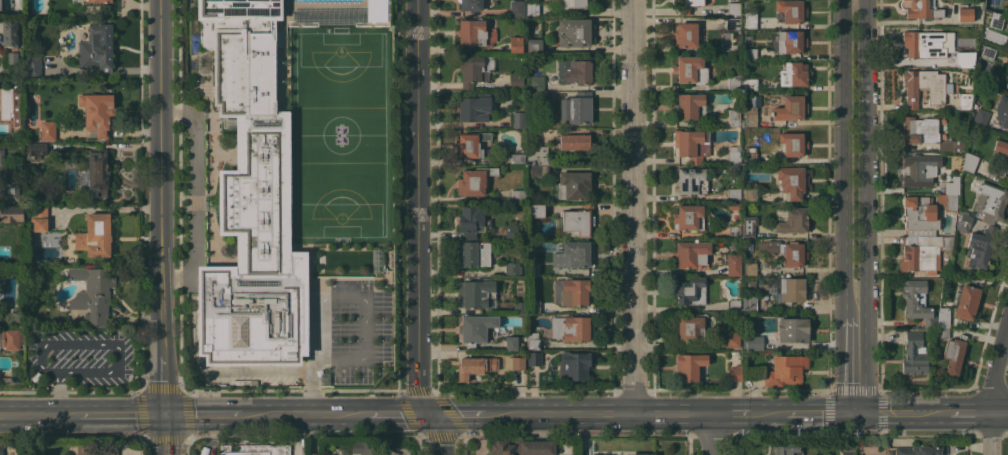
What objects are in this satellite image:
building: (28, 0)
building: (95, 0)
building: (17, 4)
building: (470, 4)
building: (579, 4)
building: (687, 5)
building: (517, 7)
building: (733, 7)
building: (532, 9)
building: (923, 9)
building: (374, 10)
building: (794, 11)
building: (965, 12)
building: (749, 19)
building: (996, 20)
building: (733, 23)
building: (10, 32)
building: (574, 32)
building: (476, 33)
building: (686, 34)
building: (791, 41)
building: (516, 44)
building: (924, 44)
building: (534, 46)
building: (96, 49)
road: (855, 52)
building: (987, 52)
building: (749, 53)
building: (12, 57)
building: (967, 59)
building: (33, 66)
building: (471, 70)
building: (575, 70)
building: (691, 70)
building: (794, 74)
building: (517, 80)
building: (734, 82)
building: (750, 83)
building: (925, 86)
building: (537, 87)
building: (965, 100)
building: (9, 105)
building: (691, 105)
road: (880, 105)
road: (912, 106)
road: (936, 106)
building: (474, 107)
building: (576, 108)
building: (789, 108)
building: (1002, 110)
building: (98, 111)
building: (752, 111)
building: (733, 117)
building: (981, 117)
building: (517, 119)
building: (47, 130)
building: (927, 133)
park: (339, 134)
building: (574, 141)
building: (793, 143)
building: (471, 144)
building: (692, 144)
road: (117, 145)
building: (37, 149)
building: (734, 154)
building: (539, 155)
building: (750, 155)
building: (2, 158)
building: (518, 159)
building: (1006, 161)
building: (970, 162)
building: (920, 169)
building: (537, 171)
building: (97, 172)
building: (474, 180)
building: (692, 180)
building: (792, 182)
building: (571, 186)
building: (951, 186)
building: (11, 190)
road: (197, 193)
building: (734, 194)
building: (750, 194)
building: (518, 195)
building: (251, 199)
building: (948, 201)
building: (990, 202)
road: (164, 205)
road: (630, 205)
building: (734, 208)
building: (536, 210)
building: (11, 213)
building: (920, 216)
building: (688, 217)
building: (39, 218)
building: (470, 220)
building: (578, 220)
building: (793, 221)
building: (964, 222)
building: (748, 225)
road: (416, 229)
building: (511, 231)
building: (734, 231)
building: (95, 235)
building: (27, 238)
building: (981, 247)
building: (785, 251)
building: (923, 252)
building: (475, 253)
building: (572, 254)
building: (691, 254)
road: (857, 258)
building: (769, 264)
building: (734, 265)
building: (512, 269)
building: (751, 269)
building: (532, 270)
building: (794, 289)
building: (571, 291)
building: (690, 291)
building: (93, 292)
building: (476, 293)
road: (362, 298)
building: (917, 301)
building: (749, 302)
building: (967, 302)
building: (732, 306)
building: (520, 307)
building: (760, 309)
building: (8, 315)
building: (943, 317)
building: (571, 328)
building: (692, 328)
building: (793, 330)
building: (476, 332)
building: (943, 333)
building: (732, 338)
building: (11, 339)
building: (533, 341)
road: (96, 343)
building: (511, 343)
building: (755, 343)
building: (914, 354)
building: (953, 354)
building: (534, 358)
building: (518, 363)
building: (573, 365)
building: (690, 365)
road: (314, 367)
building: (474, 367)
road: (224, 370)
building: (785, 370)
building: (735, 373)
building: (10, 380)
road: (992, 384)
road: (58, 393)
road: (609, 410)
road: (671, 410)
road: (727, 410)
road: (766, 410)
road: (534, 411)
road: (821, 411)
traffic signals: (858, 411)
traffic signals: (165, 412)
road: (205, 412)
road: (304, 412)
road: (396, 412)
traffic signals: (428, 412)
road: (456, 412)
road: (903, 412)
road: (121, 413)
road: (969, 413)
road: (999, 413)
road: (38, 414)
road: (708, 432)
road: (165, 433)
road: (208, 433)
building: (523, 447)
building: (1, 448)
building: (366, 448)
building: (847, 448)
building: (89, 449)
building: (111, 449)
building: (255, 449)
building: (787, 449)
building: (919, 450)
building: (314, 454)
building: (639, 454)

